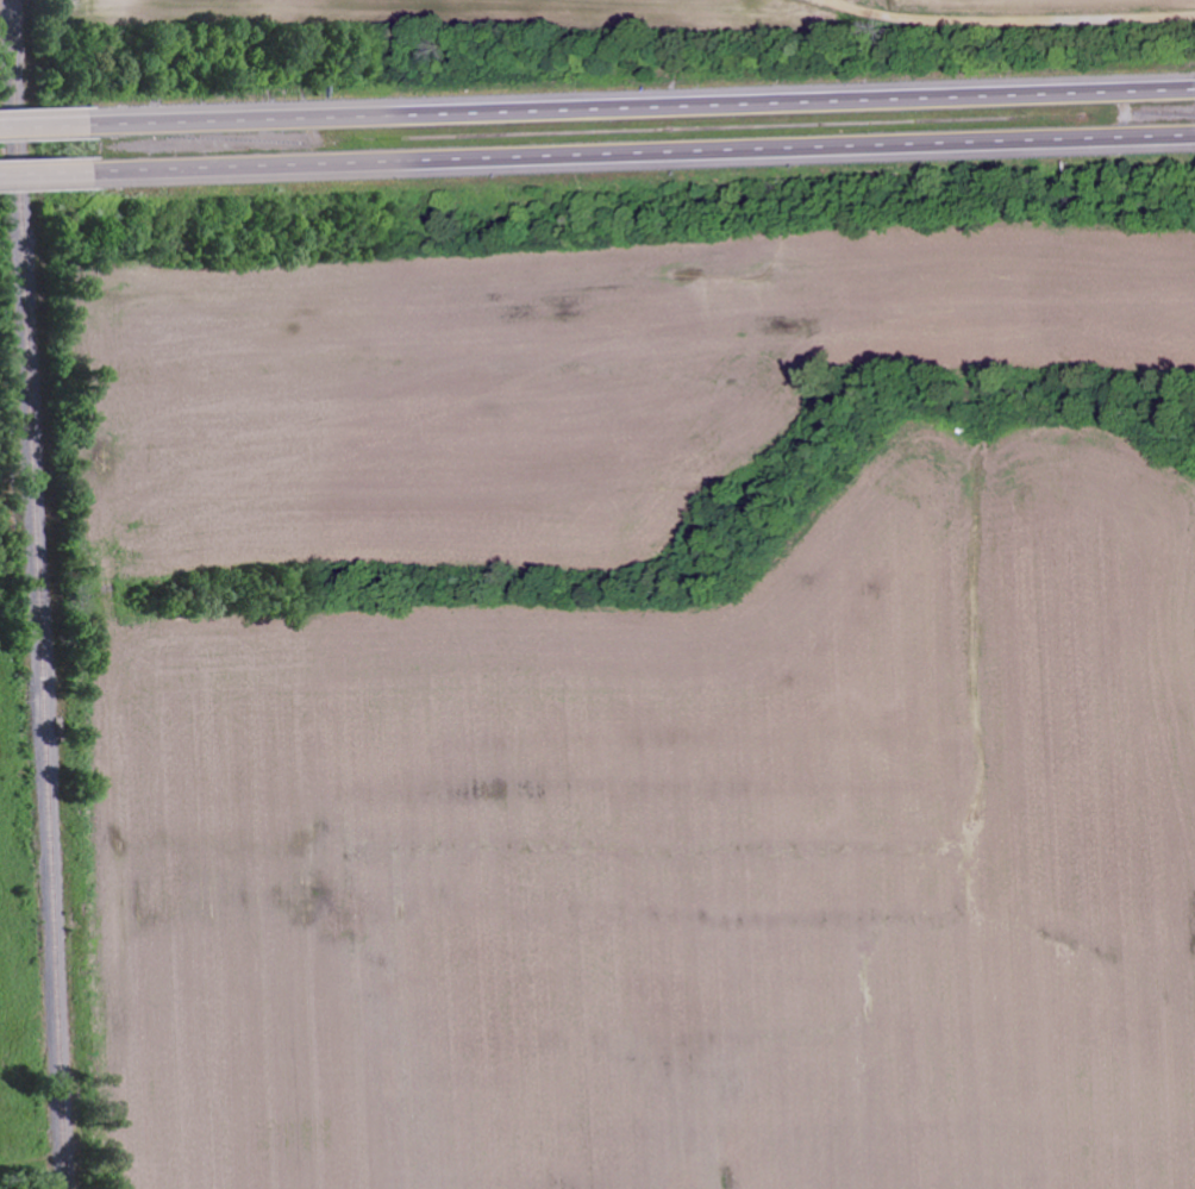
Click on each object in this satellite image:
road: (644, 104)
road: (46, 125)
road: (645, 154)
road: (48, 171)
railway: (38, 594)

